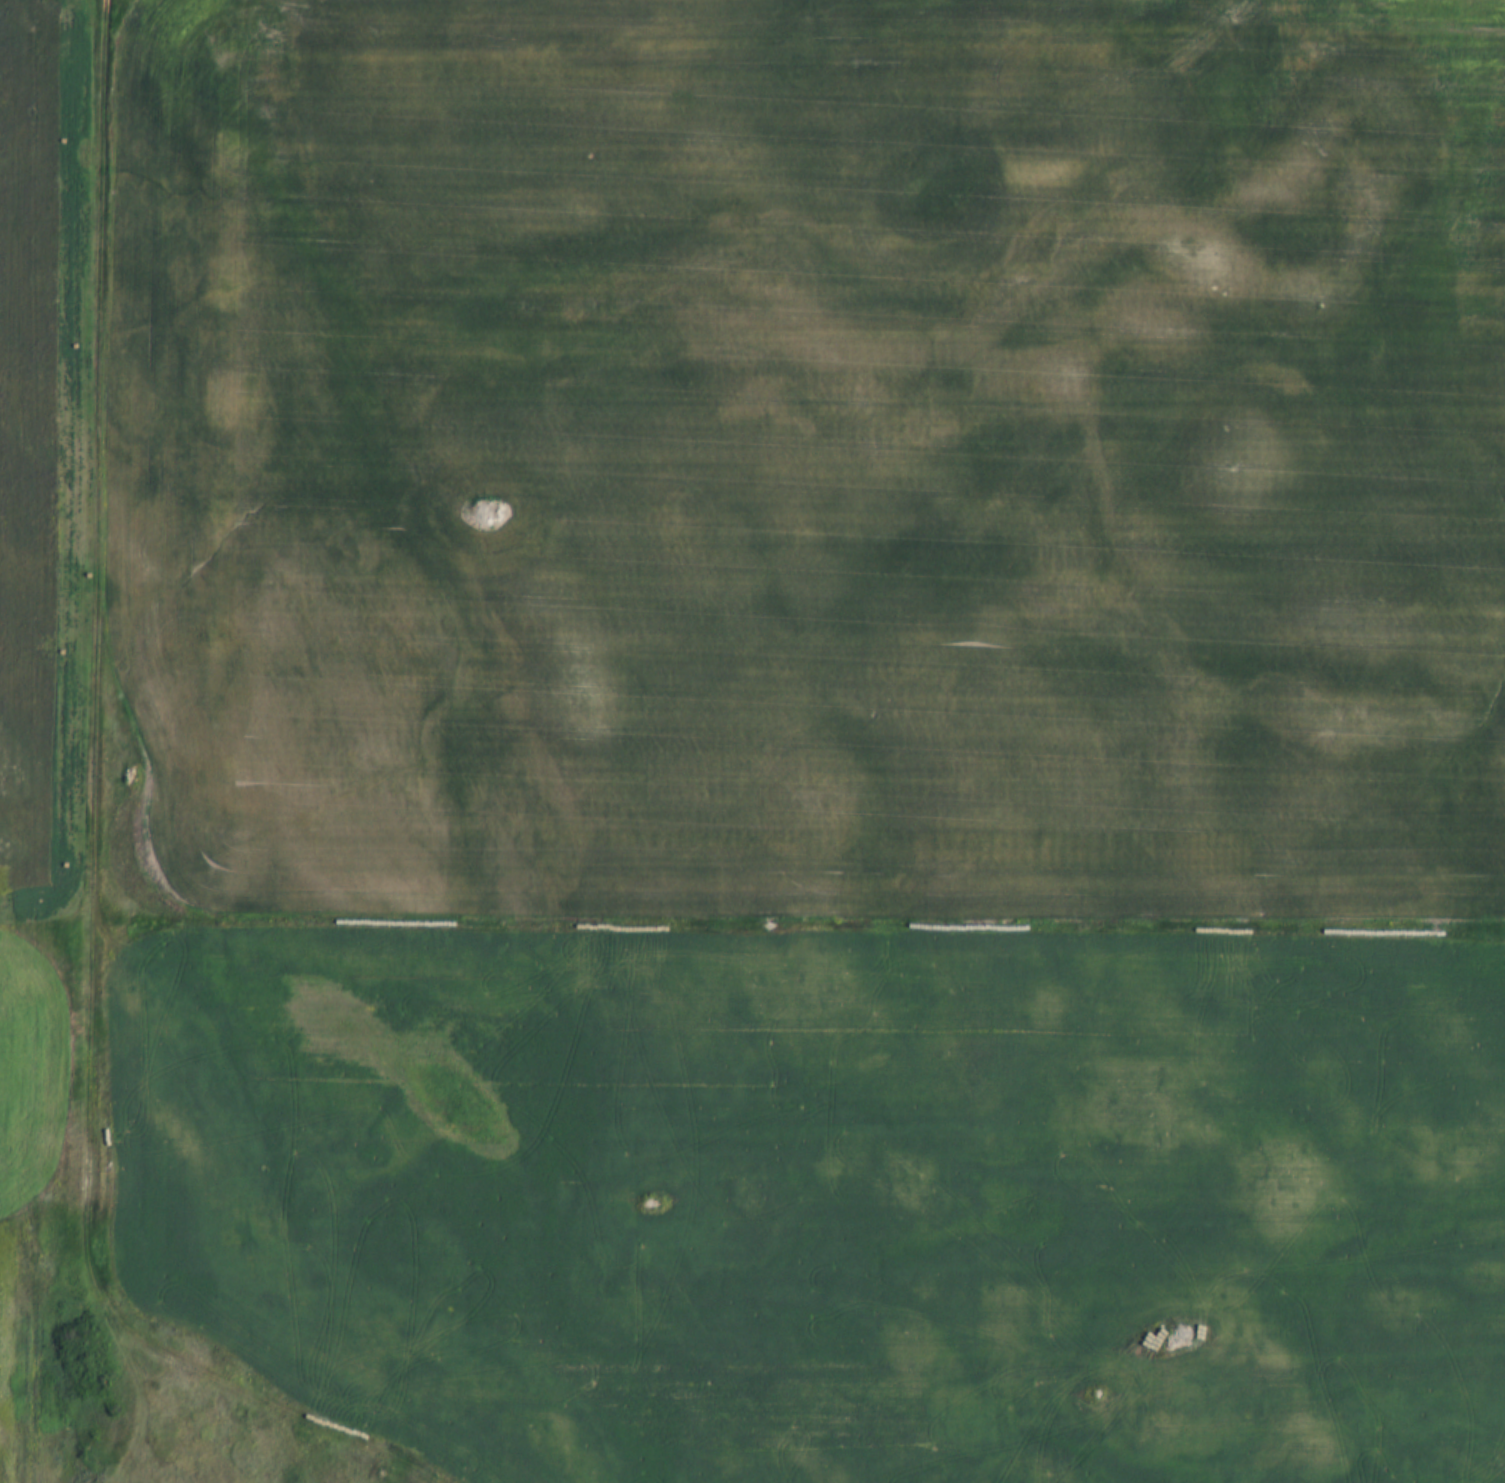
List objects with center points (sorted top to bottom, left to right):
road: (110, 800)

